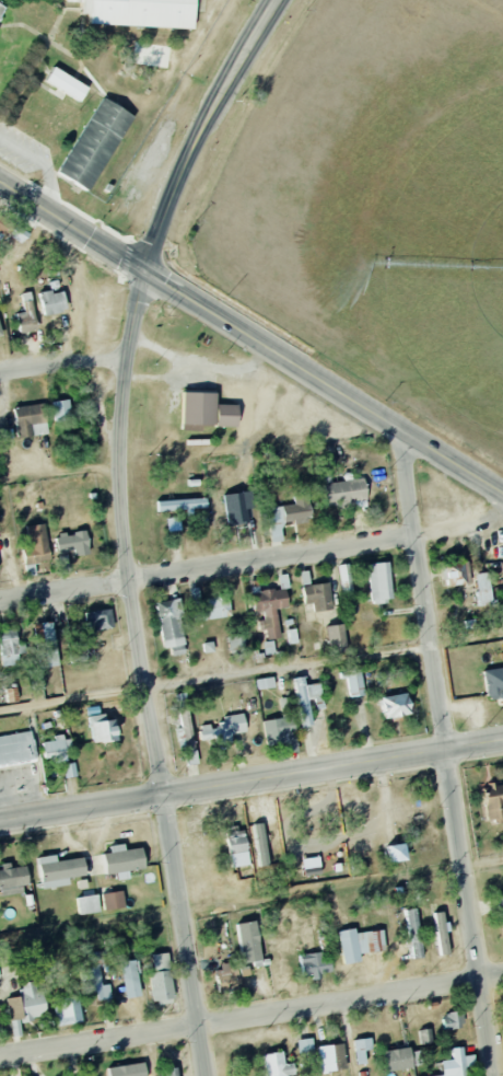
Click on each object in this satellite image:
building: (0, 4)
building: (139, 11)
building: (66, 79)
road: (202, 134)
building: (93, 139)
road: (44, 166)
building: (13, 230)
road: (49, 253)
building: (54, 302)
building: (25, 322)
building: (0, 331)
road: (249, 342)
road: (63, 367)
building: (204, 404)
building: (62, 410)
building: (31, 420)
road: (59, 476)
building: (346, 494)
building: (182, 505)
building: (231, 516)
building: (289, 516)
road: (124, 536)
building: (73, 543)
building: (37, 546)
road: (250, 562)
building: (346, 576)
building: (305, 578)
building: (381, 582)
building: (484, 589)
building: (318, 597)
building: (211, 608)
building: (270, 610)
building: (101, 620)
building: (172, 625)
building: (292, 637)
building: (337, 638)
building: (47, 644)
building: (209, 647)
building: (269, 648)
building: (9, 649)
road: (213, 681)
building: (353, 682)
building: (266, 683)
building: (494, 684)
building: (306, 698)
building: (396, 706)
building: (103, 729)
building: (224, 730)
building: (278, 730)
building: (291, 742)
building: (57, 749)
building: (16, 750)
road: (445, 751)
building: (70, 770)
road: (251, 782)
building: (493, 799)
building: (259, 843)
building: (237, 848)
building: (124, 860)
building: (59, 870)
building: (13, 879)
building: (114, 900)
building: (89, 904)
road: (250, 904)
building: (501, 904)
building: (414, 933)
building: (442, 933)
road: (185, 936)
building: (249, 941)
building: (360, 944)
building: (98, 957)
building: (315, 964)
building: (232, 974)
building: (131, 979)
building: (162, 979)
building: (95, 983)
building: (27, 1003)
building: (68, 1010)
road: (250, 1015)
building: (454, 1020)
building: (426, 1037)
building: (305, 1046)
building: (362, 1049)
building: (332, 1057)
building: (398, 1058)
building: (457, 1063)
building: (277, 1065)
building: (128, 1071)
building: (174, 1072)

